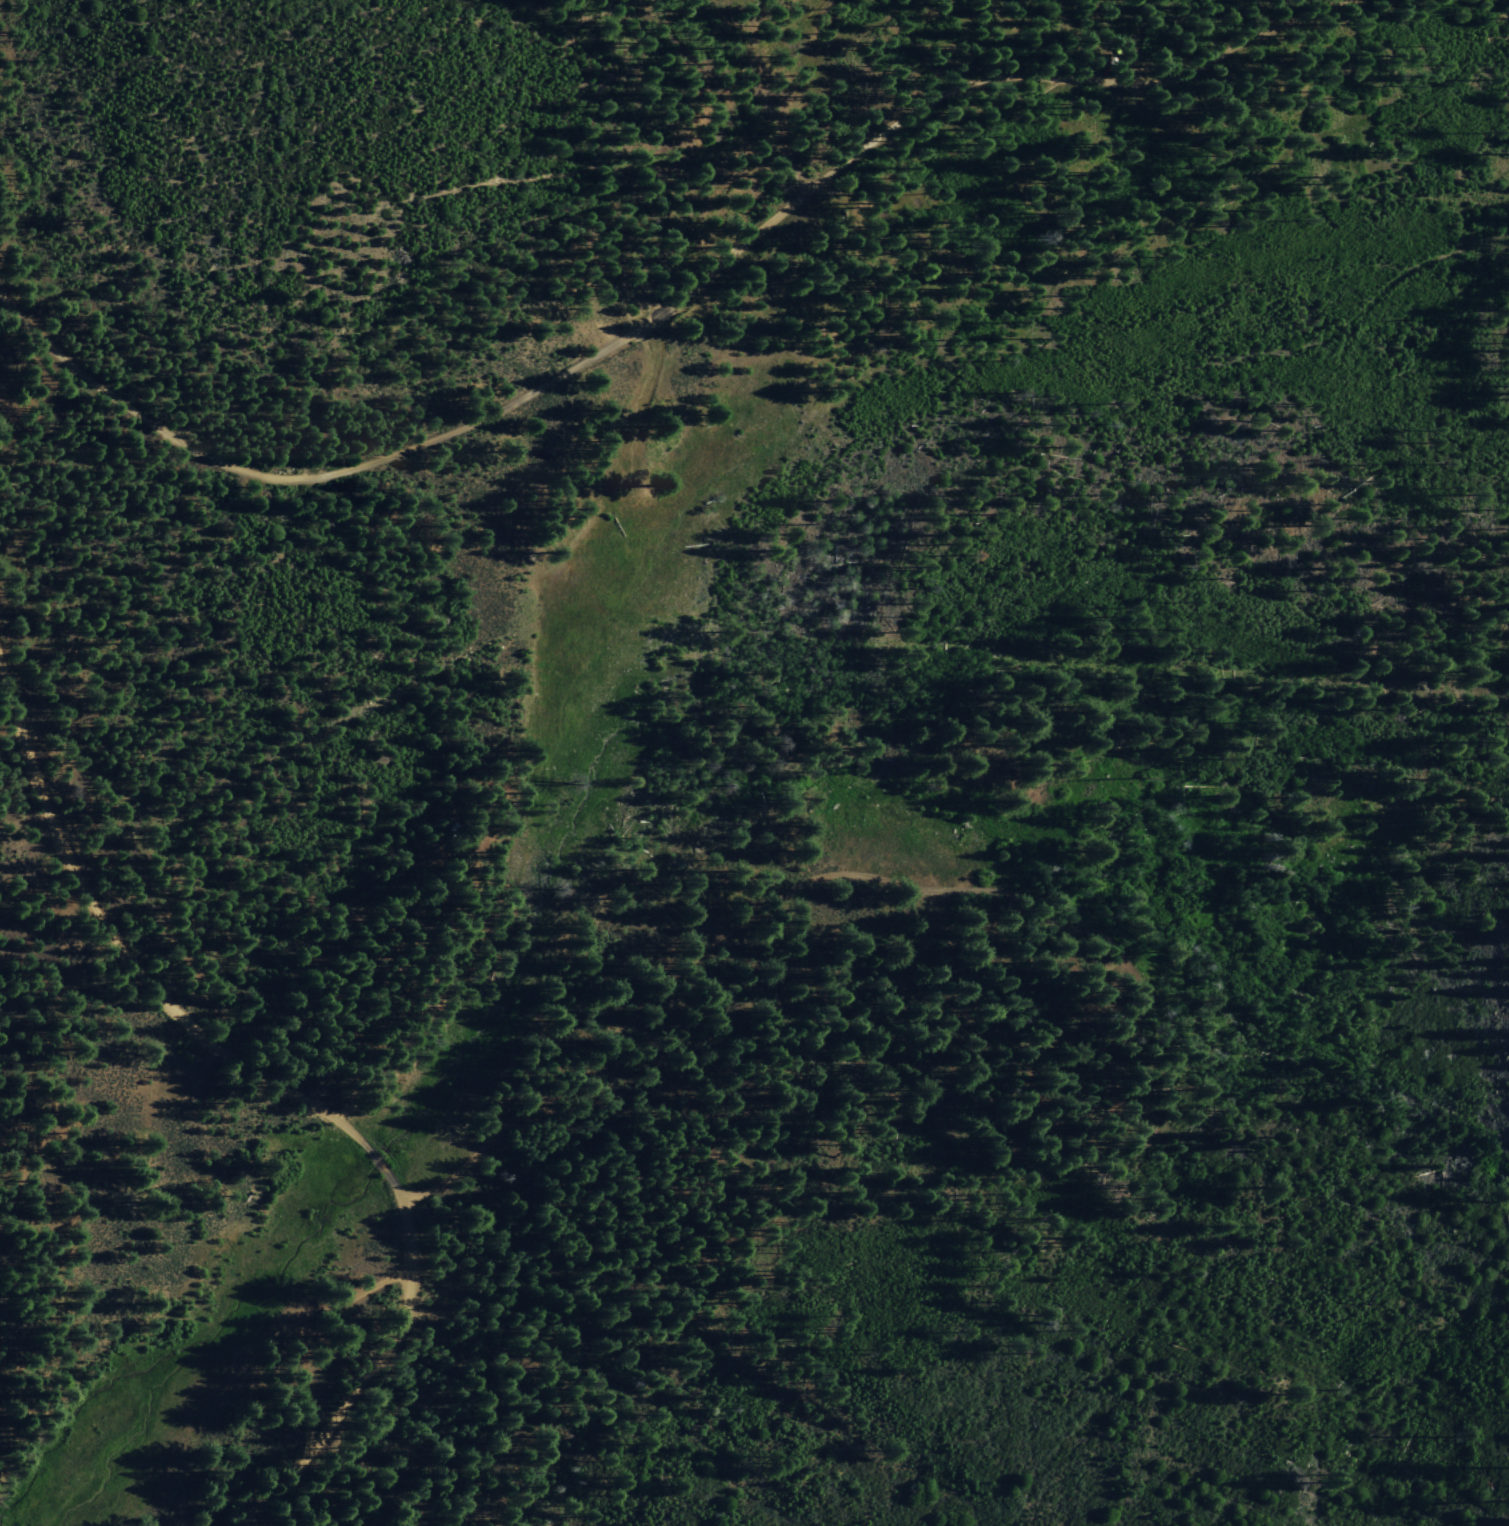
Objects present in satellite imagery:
road: (1317, 8)
road: (647, 324)
road: (745, 919)
road: (294, 1095)
road: (296, 1330)
road: (332, 1353)

